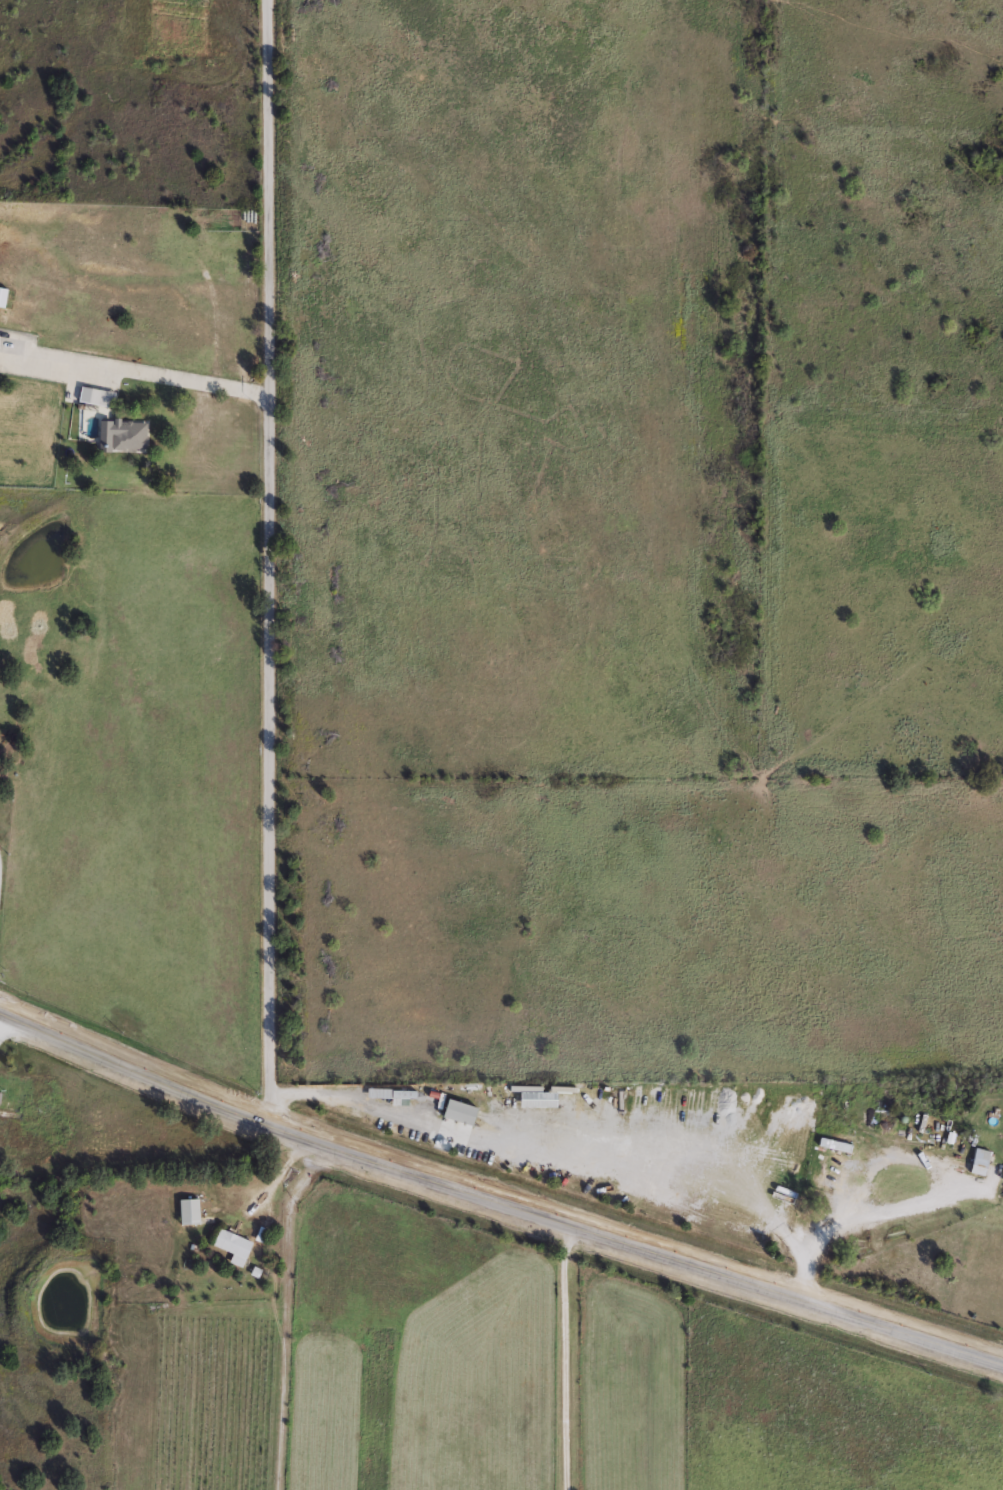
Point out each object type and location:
building: (4, 296)
road: (176, 379)
building: (98, 395)
building: (131, 434)
road: (267, 562)
building: (463, 1110)
road: (565, 1160)
building: (976, 1161)
building: (1002, 1179)
building: (827, 1181)
road: (496, 1200)
building: (192, 1210)
road: (851, 1216)
building: (235, 1243)
building: (187, 1258)
road: (563, 1357)

